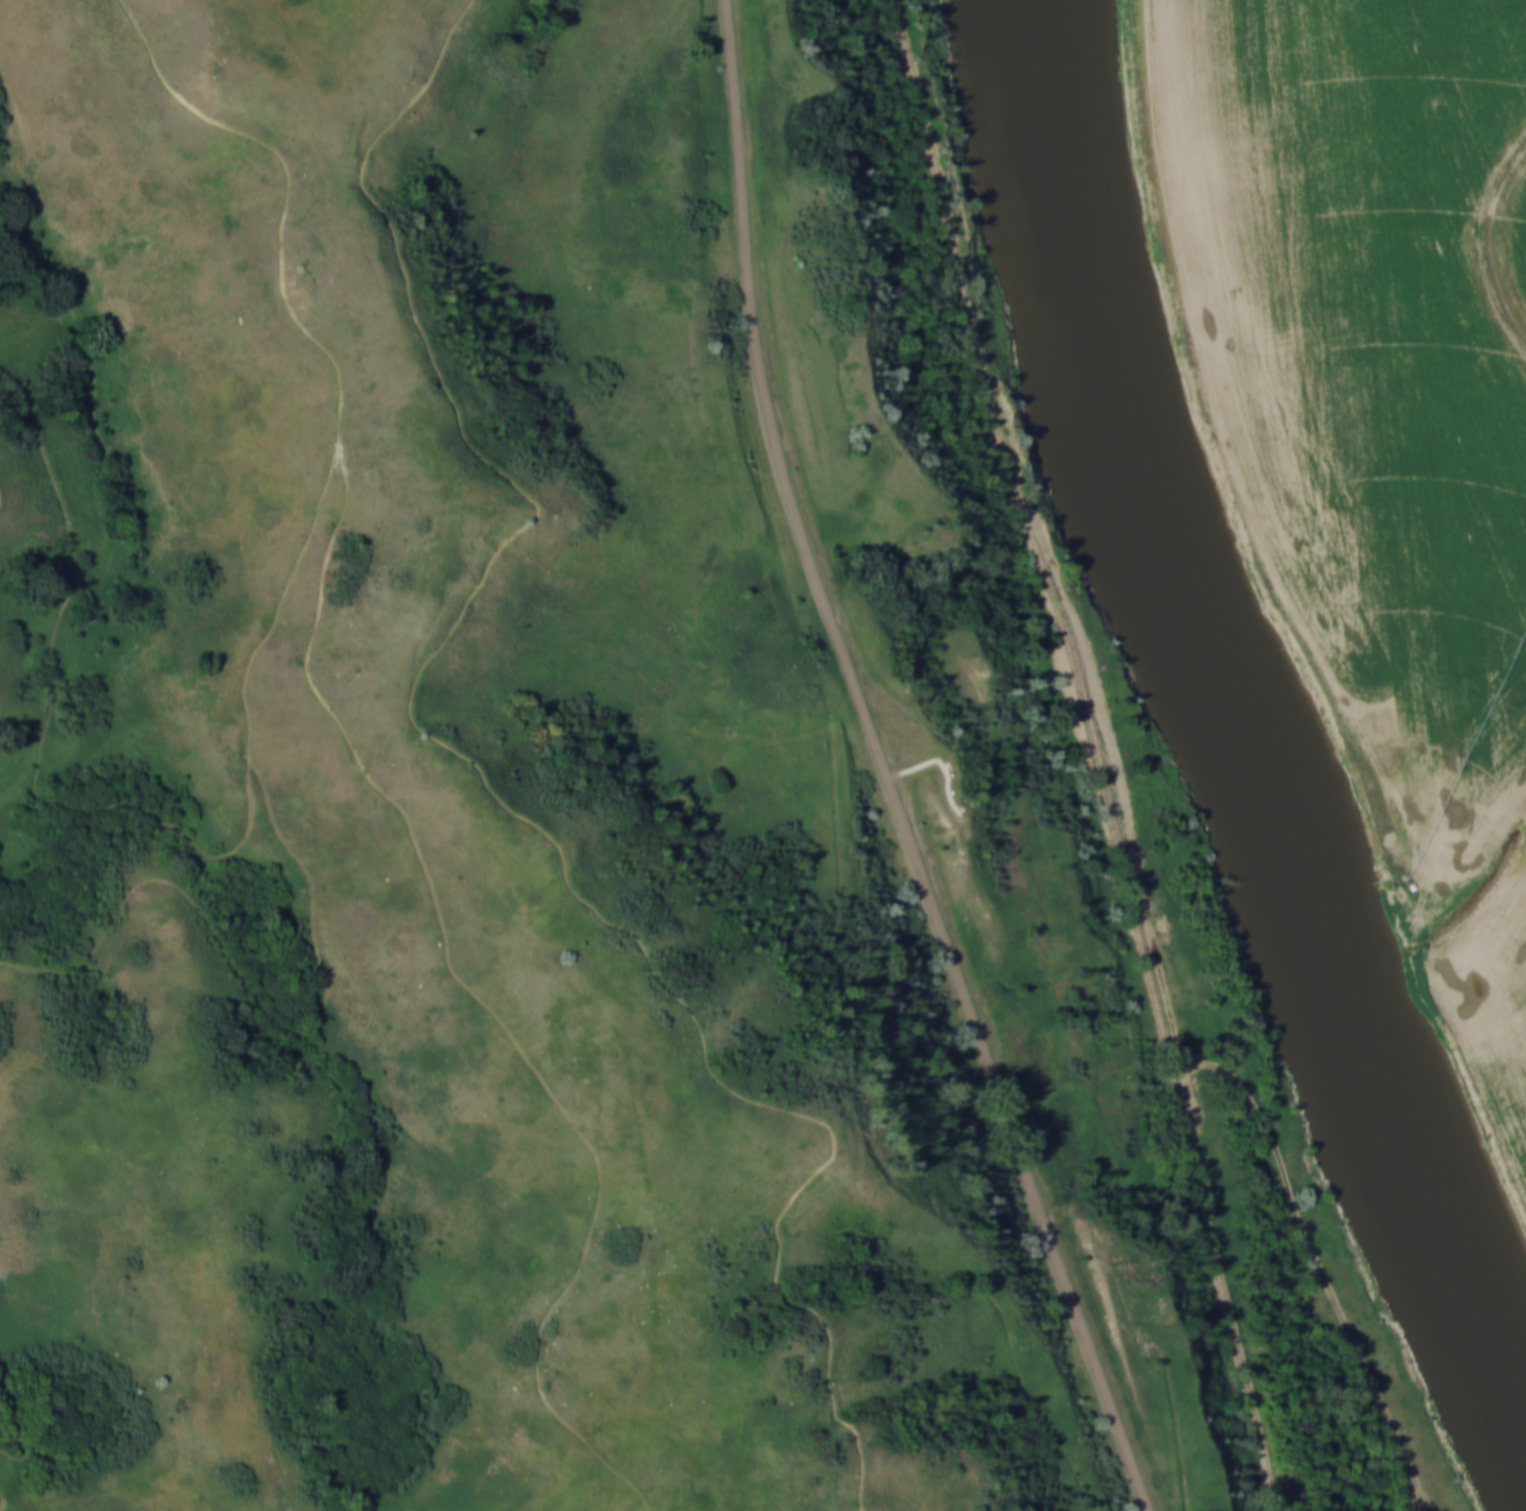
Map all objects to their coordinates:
river: (1241, 720)
railway: (1093, 755)
road: (937, 761)
road: (885, 766)
park: (641, 808)

